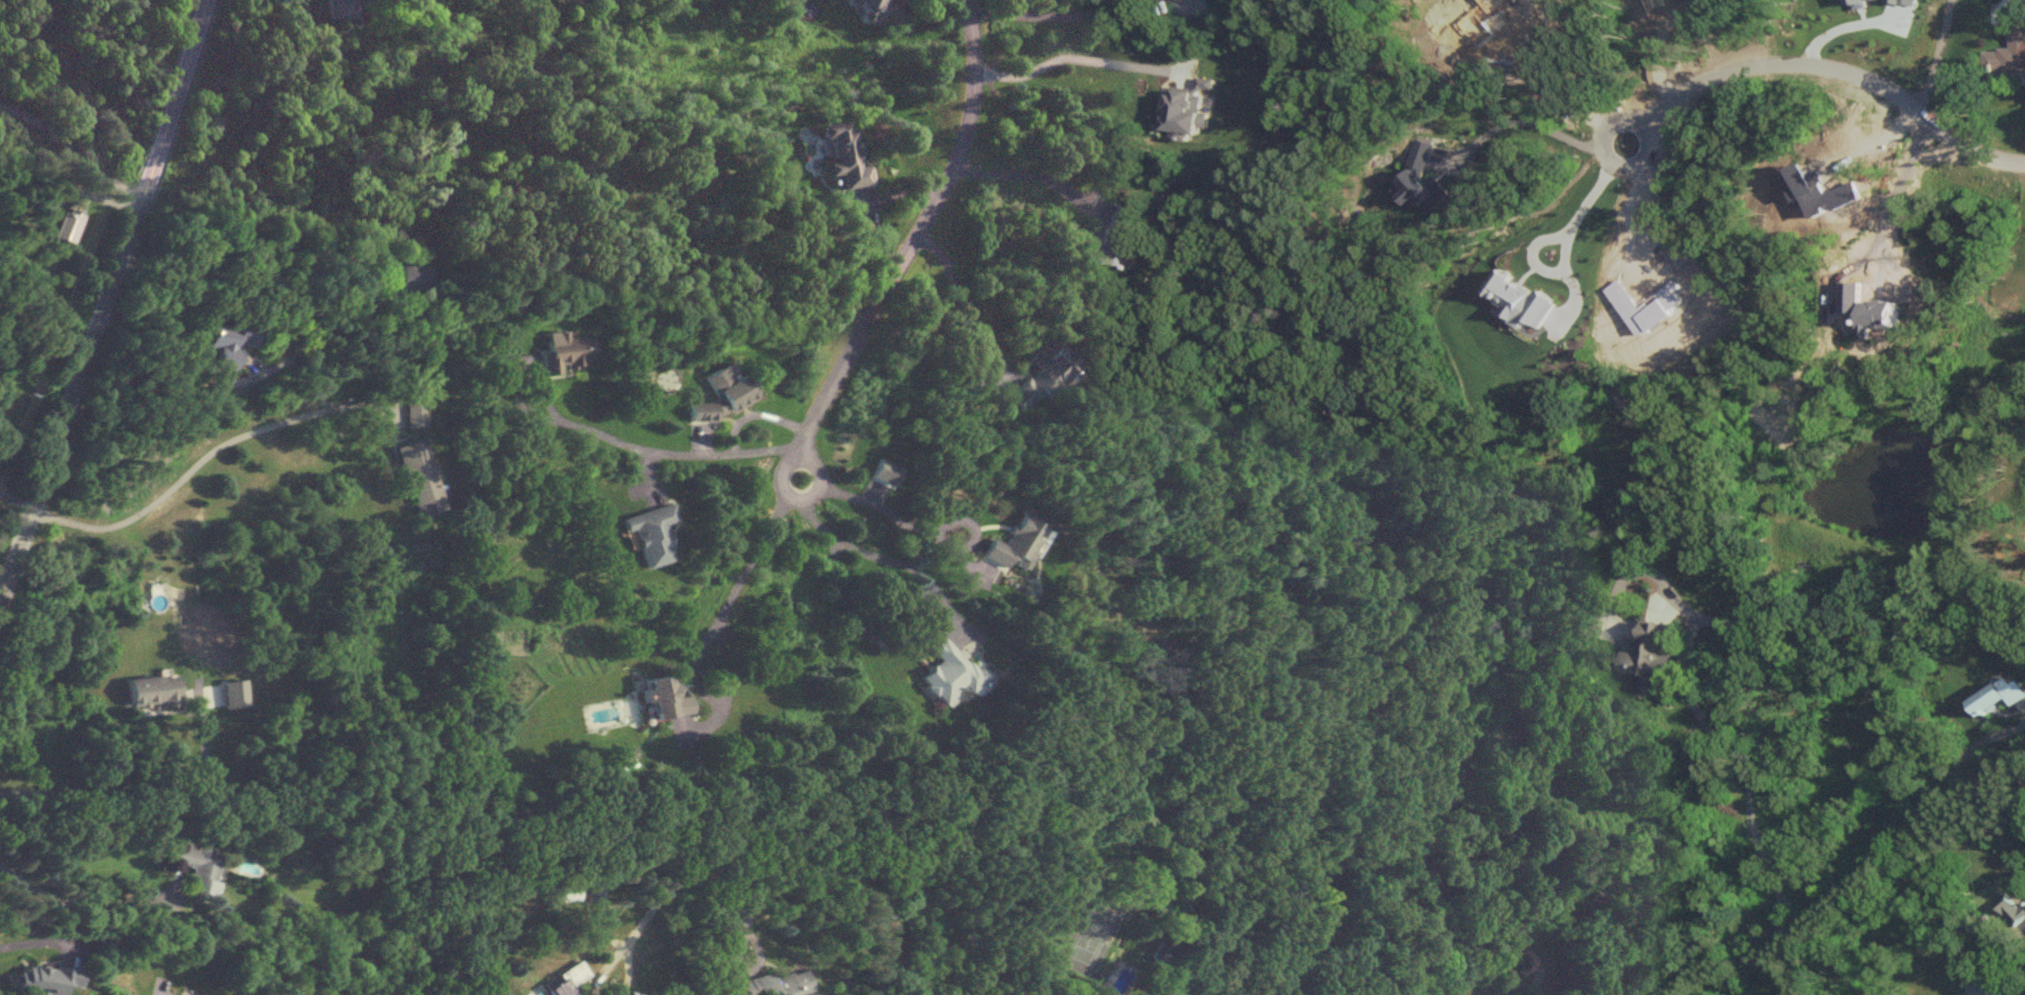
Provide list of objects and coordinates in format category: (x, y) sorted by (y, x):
building: (871, 8)
building: (344, 10)
road: (1054, 16)
road: (1840, 28)
building: (2008, 53)
road: (1930, 54)
road: (1661, 57)
road: (1080, 59)
road: (1837, 65)
road: (1550, 98)
road: (1524, 123)
road: (72, 153)
building: (844, 157)
road: (1607, 160)
road: (1032, 177)
road: (887, 196)
road: (1892, 200)
road: (1629, 218)
road: (921, 219)
building: (65, 224)
building: (1113, 236)
road: (1565, 247)
road: (365, 256)
building: (415, 277)
road: (105, 303)
road: (961, 309)
building: (224, 340)
building: (563, 351)
building: (1042, 376)
building: (720, 394)
road: (756, 413)
building: (414, 415)
road: (659, 450)
road: (203, 453)
building: (419, 477)
road: (18, 495)
road: (798, 497)
road: (923, 529)
building: (651, 533)
building: (1016, 544)
road: (921, 607)
road: (704, 639)
building: (1651, 658)
building: (948, 670)
building: (151, 689)
building: (665, 696)
road: (1749, 699)
road: (142, 791)
building: (199, 864)
road: (792, 867)
building: (592, 887)
building: (560, 888)
road: (1831, 894)
road: (80, 906)
building: (2018, 915)
road: (27, 941)
road: (604, 967)
road: (625, 969)
building: (47, 978)
building: (568, 979)
building: (771, 983)
building: (636, 992)
building: (184, 994)

